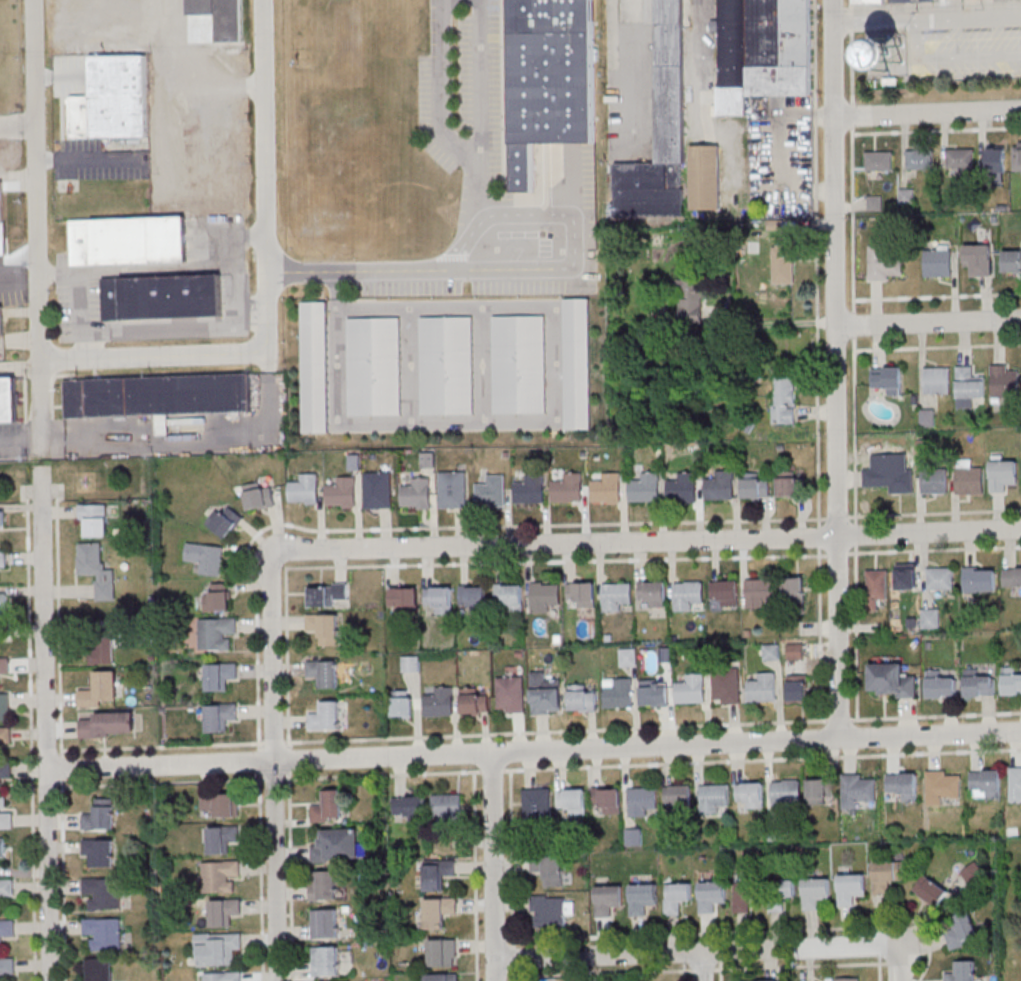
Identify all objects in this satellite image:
building: (916, 0)
building: (867, 1)
building: (895, 1)
road: (849, 7)
building: (222, 18)
road: (925, 20)
road: (850, 23)
road: (643, 32)
building: (779, 47)
building: (887, 52)
water tower: (887, 53)
parking lot: (964, 55)
building: (728, 59)
road: (851, 68)
road: (611, 72)
building: (555, 78)
road: (444, 85)
building: (112, 100)
road: (925, 109)
road: (851, 116)
building: (660, 128)
road: (936, 130)
road: (18, 131)
building: (1017, 156)
building: (960, 158)
building: (996, 159)
building: (920, 160)
building: (879, 161)
building: (706, 177)
road: (267, 178)
road: (38, 211)
building: (1, 220)
road: (852, 220)
road: (476, 231)
building: (128, 241)
road: (573, 255)
building: (978, 258)
building: (938, 260)
building: (1012, 261)
road: (816, 263)
building: (783, 264)
building: (884, 264)
parking lot: (406, 285)
road: (19, 286)
building: (691, 294)
road: (937, 296)
building: (162, 297)
road: (82, 301)
road: (779, 321)
building: (1, 322)
road: (928, 322)
road: (853, 324)
road: (180, 327)
road: (937, 347)
road: (155, 362)
building: (519, 364)
building: (578, 364)
building: (447, 365)
building: (315, 366)
building: (374, 366)
road: (835, 368)
building: (888, 380)
building: (937, 380)
building: (1004, 382)
building: (969, 387)
building: (157, 397)
building: (785, 399)
building: (8, 400)
road: (853, 430)
road: (23, 438)
building: (1002, 472)
park: (105, 474)
park: (11, 478)
building: (888, 478)
building: (969, 479)
building: (935, 481)
building: (790, 484)
building: (720, 485)
road: (41, 487)
building: (645, 487)
building: (755, 487)
building: (568, 488)
building: (607, 488)
building: (304, 489)
building: (682, 489)
road: (61, 490)
building: (378, 490)
building: (453, 490)
building: (491, 490)
building: (530, 490)
building: (342, 492)
building: (417, 494)
building: (259, 496)
road: (934, 513)
road: (837, 518)
building: (93, 519)
building: (2, 520)
building: (224, 521)
road: (429, 528)
road: (855, 535)
road: (819, 537)
road: (647, 540)
road: (934, 549)
road: (837, 555)
building: (206, 557)
building: (3, 560)
road: (465, 563)
building: (97, 569)
building: (907, 576)
building: (1012, 576)
building: (940, 578)
building: (979, 579)
building: (876, 587)
building: (794, 590)
building: (654, 592)
building: (760, 592)
building: (582, 593)
building: (725, 593)
building: (326, 594)
building: (689, 595)
building: (545, 596)
building: (616, 596)
building: (217, 598)
building: (473, 598)
building: (509, 598)
building: (404, 599)
building: (439, 599)
building: (3, 604)
building: (930, 618)
road: (57, 627)
building: (324, 627)
road: (855, 632)
building: (216, 634)
road: (819, 635)
building: (101, 644)
building: (771, 651)
building: (795, 651)
building: (627, 656)
building: (410, 663)
building: (4, 666)
building: (323, 673)
building: (221, 675)
building: (892, 680)
building: (1011, 680)
building: (939, 684)
building: (979, 684)
building: (726, 686)
building: (763, 687)
building: (797, 688)
building: (691, 689)
building: (101, 690)
building: (618, 692)
building: (655, 692)
building: (546, 693)
building: (511, 694)
building: (581, 698)
building: (474, 701)
building: (440, 702)
building: (403, 703)
building: (4, 706)
building: (325, 715)
road: (935, 715)
building: (220, 716)
road: (839, 720)
road: (46, 724)
building: (108, 724)
road: (29, 727)
road: (555, 731)
building: (5, 736)
road: (273, 743)
road: (161, 746)
road: (534, 750)
road: (762, 759)
road: (288, 760)
road: (258, 761)
road: (61, 768)
road: (275, 768)
road: (492, 770)
building: (5, 771)
road: (381, 775)
road: (273, 779)
road: (161, 783)
building: (903, 784)
building: (985, 784)
building: (1015, 784)
building: (943, 786)
building: (858, 789)
building: (820, 791)
building: (751, 793)
building: (784, 794)
building: (678, 795)
building: (608, 798)
building: (713, 798)
building: (642, 800)
building: (572, 801)
building: (330, 803)
building: (537, 804)
building: (220, 805)
building: (409, 808)
building: (446, 808)
building: (5, 814)
building: (100, 815)
building: (633, 836)
building: (222, 838)
building: (338, 845)
building: (2, 847)
building: (99, 851)
road: (511, 858)
road: (493, 866)
building: (549, 870)
building: (437, 872)
building: (973, 874)
building: (220, 875)
building: (887, 875)
road: (289, 876)
road: (474, 876)
road: (260, 877)
road: (62, 880)
building: (323, 885)
building: (851, 888)
building: (5, 889)
building: (930, 891)
building: (103, 892)
building: (815, 892)
building: (780, 893)
building: (711, 895)
building: (743, 896)
building: (677, 897)
building: (642, 898)
building: (608, 899)
park: (1009, 906)
building: (224, 911)
building: (550, 911)
building: (438, 912)
building: (325, 923)
building: (963, 929)
building: (6, 931)
road: (745, 932)
building: (104, 933)
building: (217, 948)
road: (697, 950)
building: (443, 952)
road: (513, 957)
building: (325, 961)
road: (900, 963)
road: (702, 965)
road: (799, 966)
building: (7, 968)
road: (879, 968)
building: (99, 969)
road: (701, 970)
road: (720, 971)
road: (684, 972)
building: (963, 972)
road: (601, 973)
road: (513, 974)
building: (222, 976)
building: (847, 978)
building: (759, 980)

